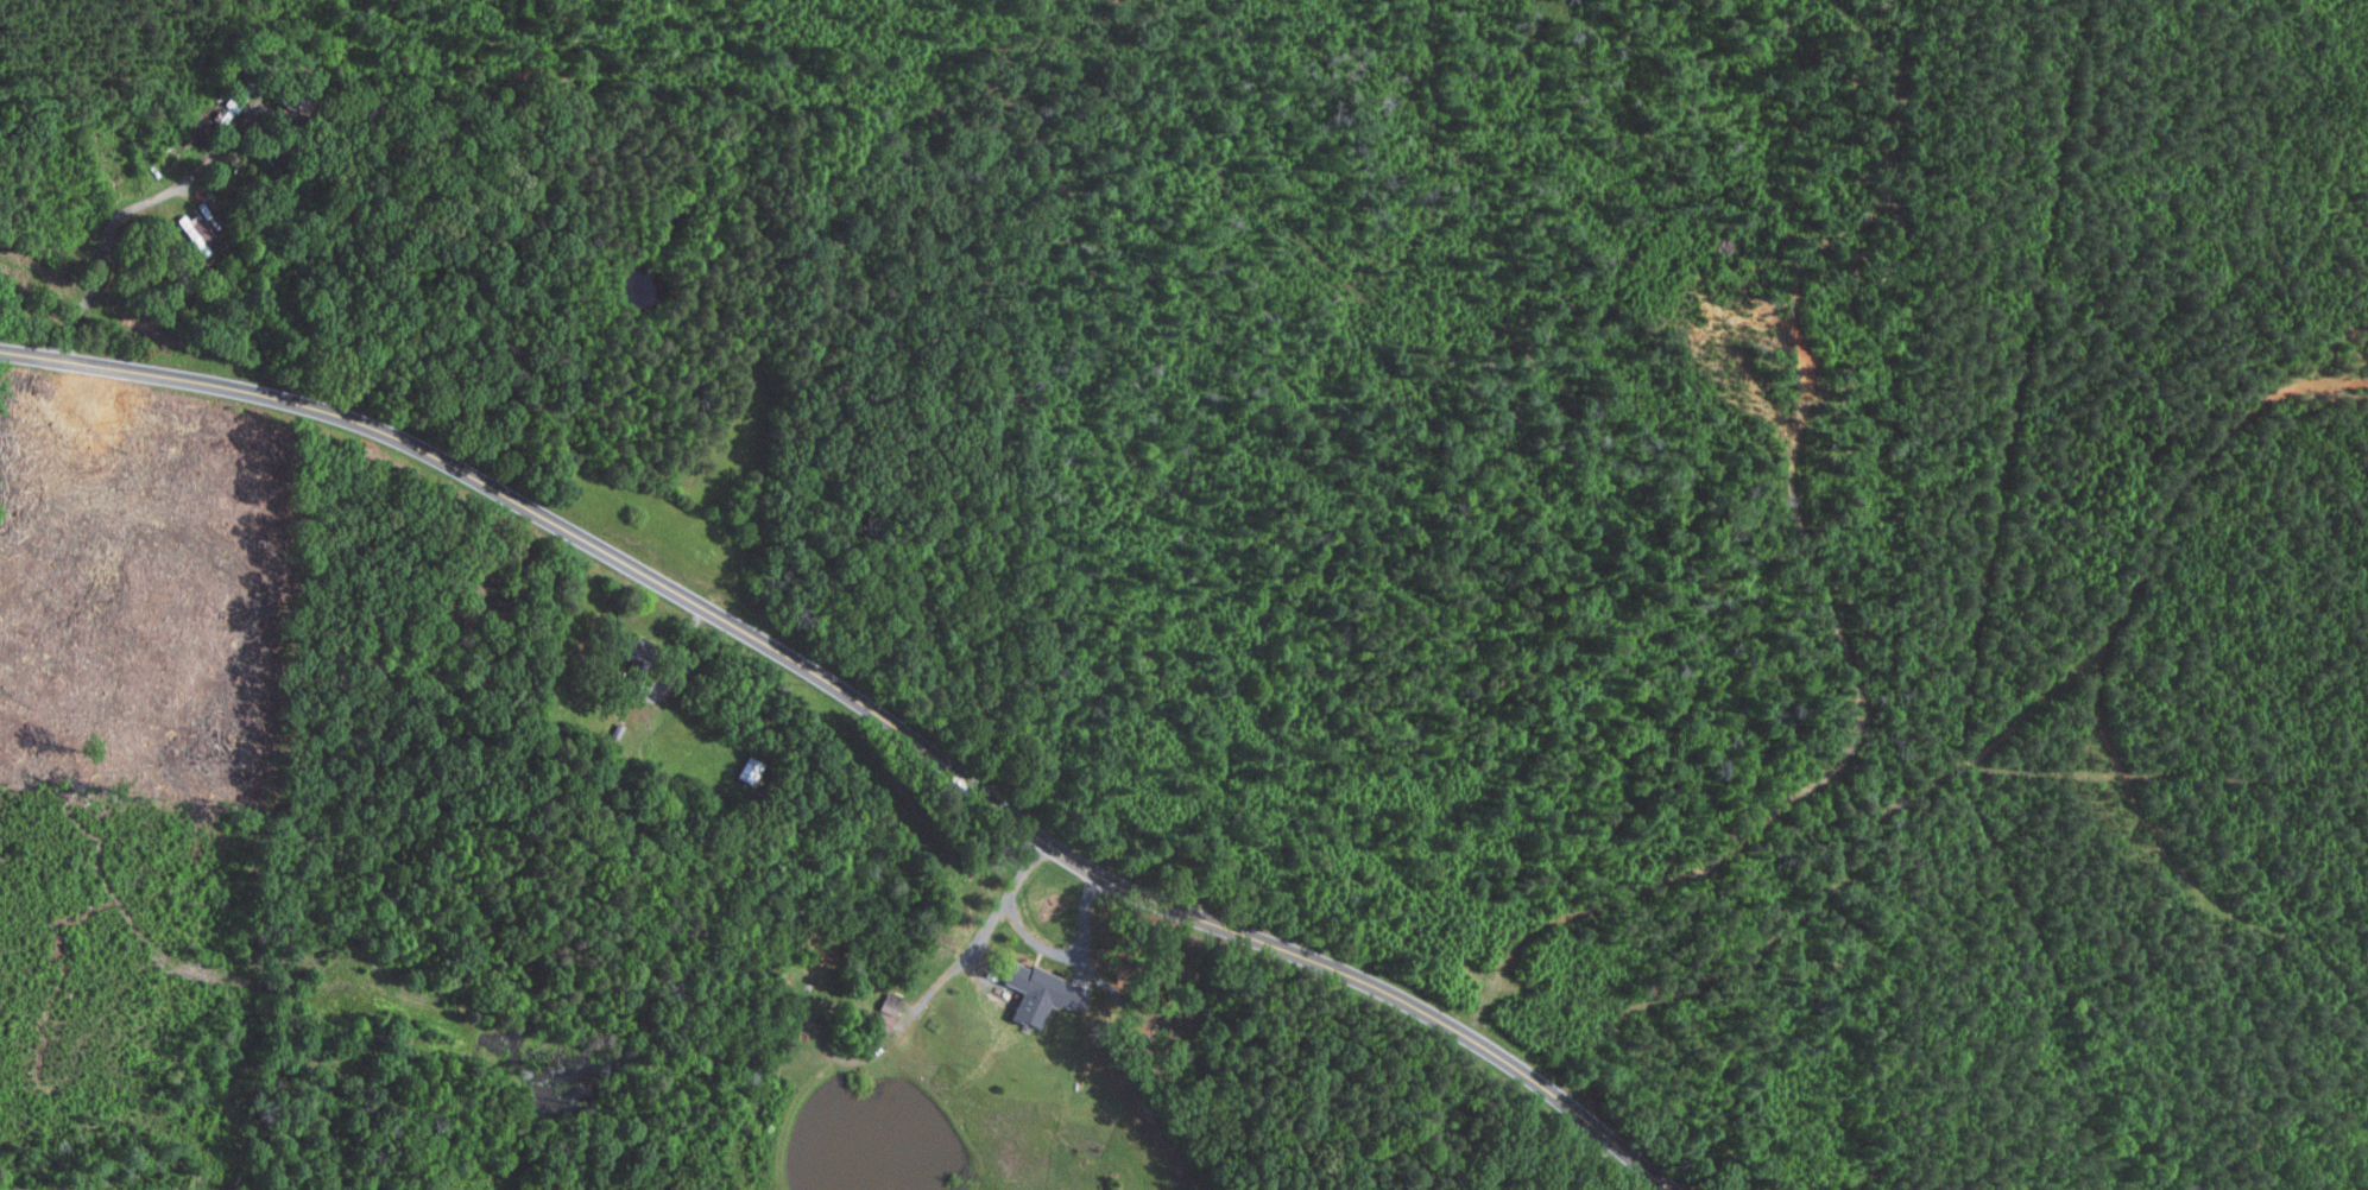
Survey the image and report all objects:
road: (128, 209)
road: (865, 707)
road: (977, 936)
building: (1037, 994)

